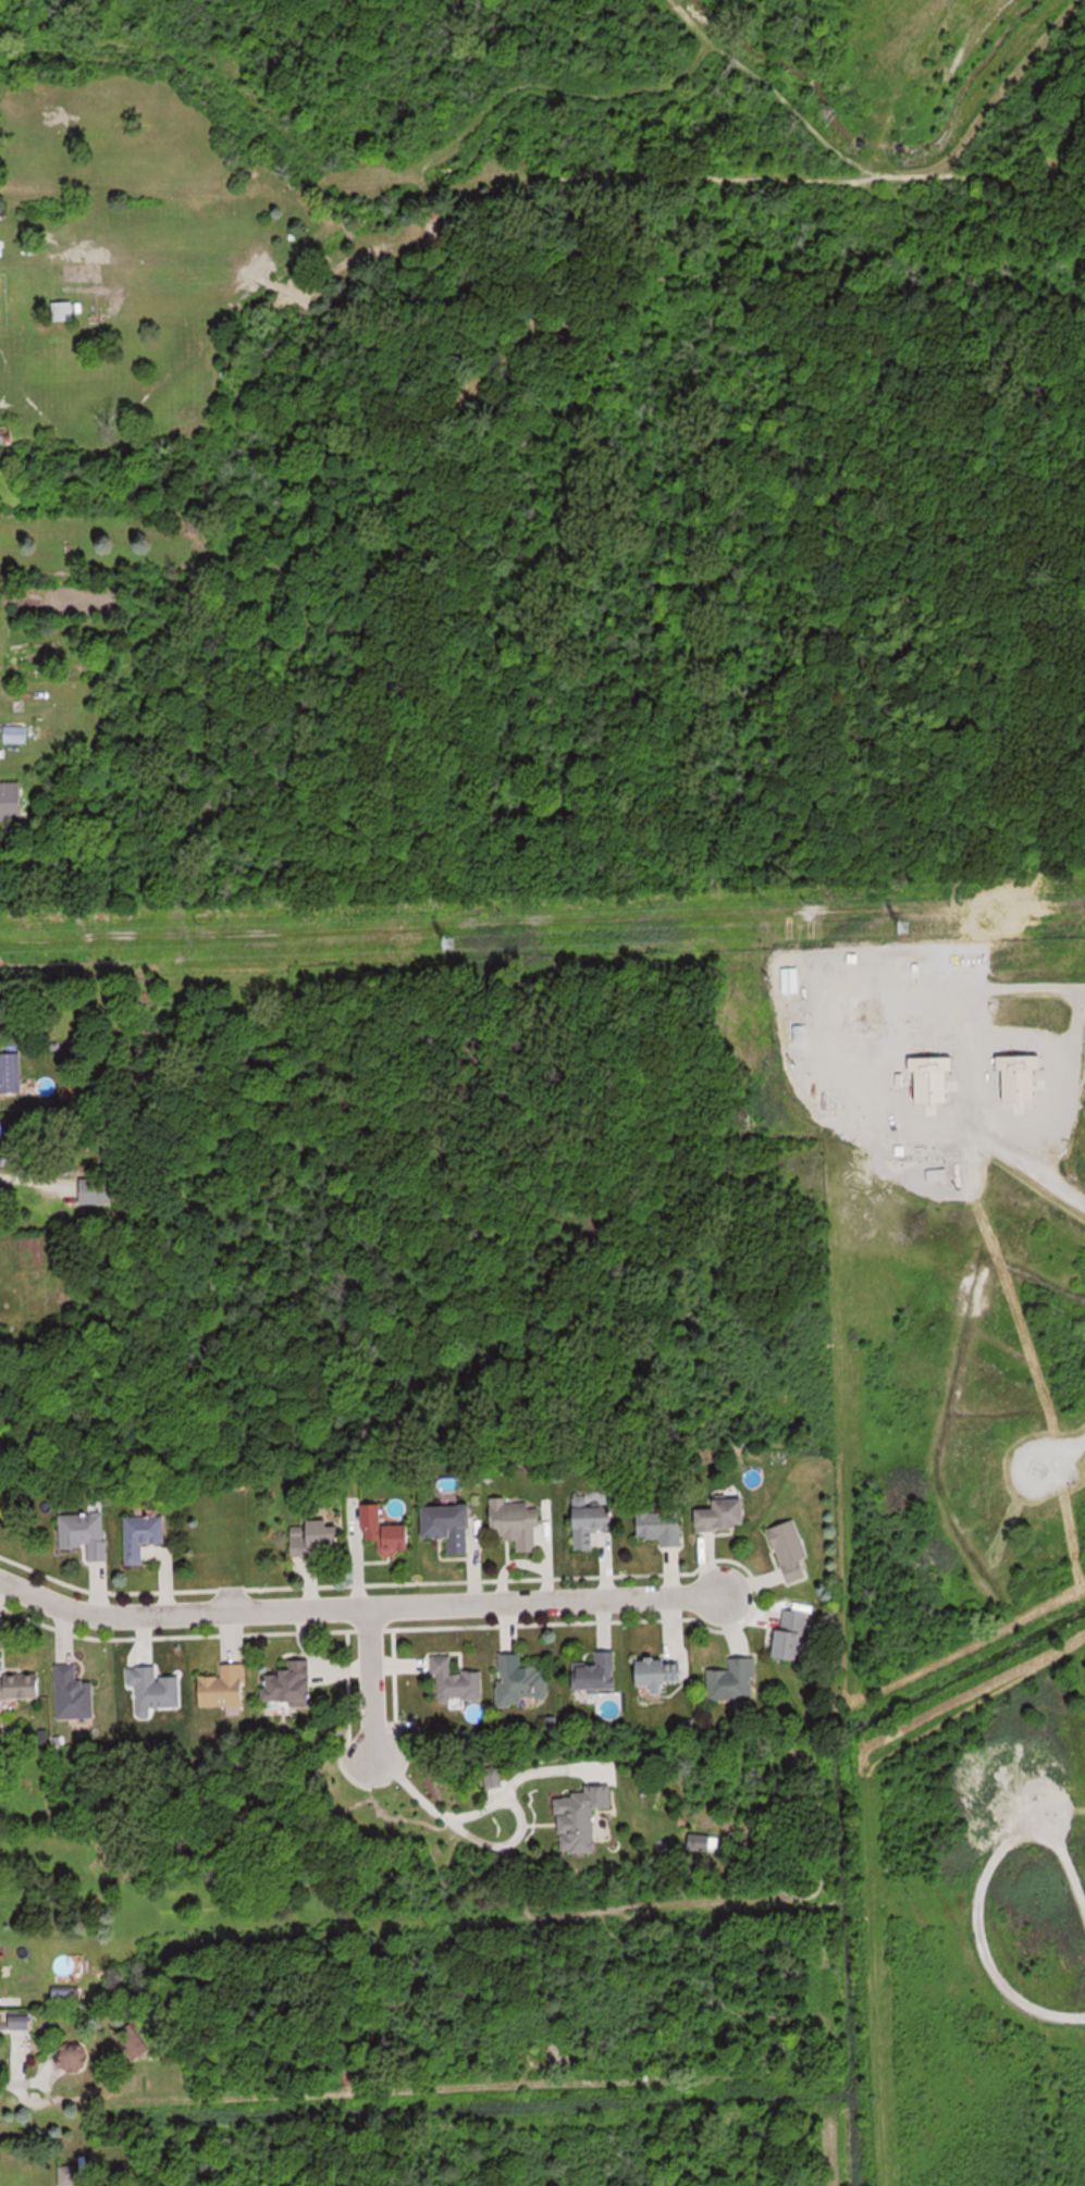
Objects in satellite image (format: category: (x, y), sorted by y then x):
building: (64, 311)
building: (16, 733)
power tower: (905, 930)
power tower: (455, 943)
building: (792, 979)
building: (863, 1014)
building: (11, 1073)
building: (1018, 1075)
building: (929, 1076)
road: (25, 1180)
road: (1062, 1185)
building: (99, 1190)
building: (726, 1515)
building: (593, 1520)
building: (519, 1523)
building: (451, 1524)
building: (666, 1524)
building: (390, 1532)
building: (86, 1533)
building: (143, 1535)
building: (319, 1536)
building: (793, 1551)
road: (368, 1607)
building: (794, 1633)
building: (663, 1670)
building: (597, 1671)
building: (521, 1680)
building: (733, 1680)
road: (369, 1681)
building: (457, 1681)
building: (291, 1683)
building: (21, 1684)
building: (225, 1685)
building: (155, 1689)
building: (74, 1693)
building: (580, 1818)
road: (484, 1840)
road: (978, 1893)
building: (21, 2022)
building: (75, 2060)
road: (9, 2085)
building: (72, 2174)

